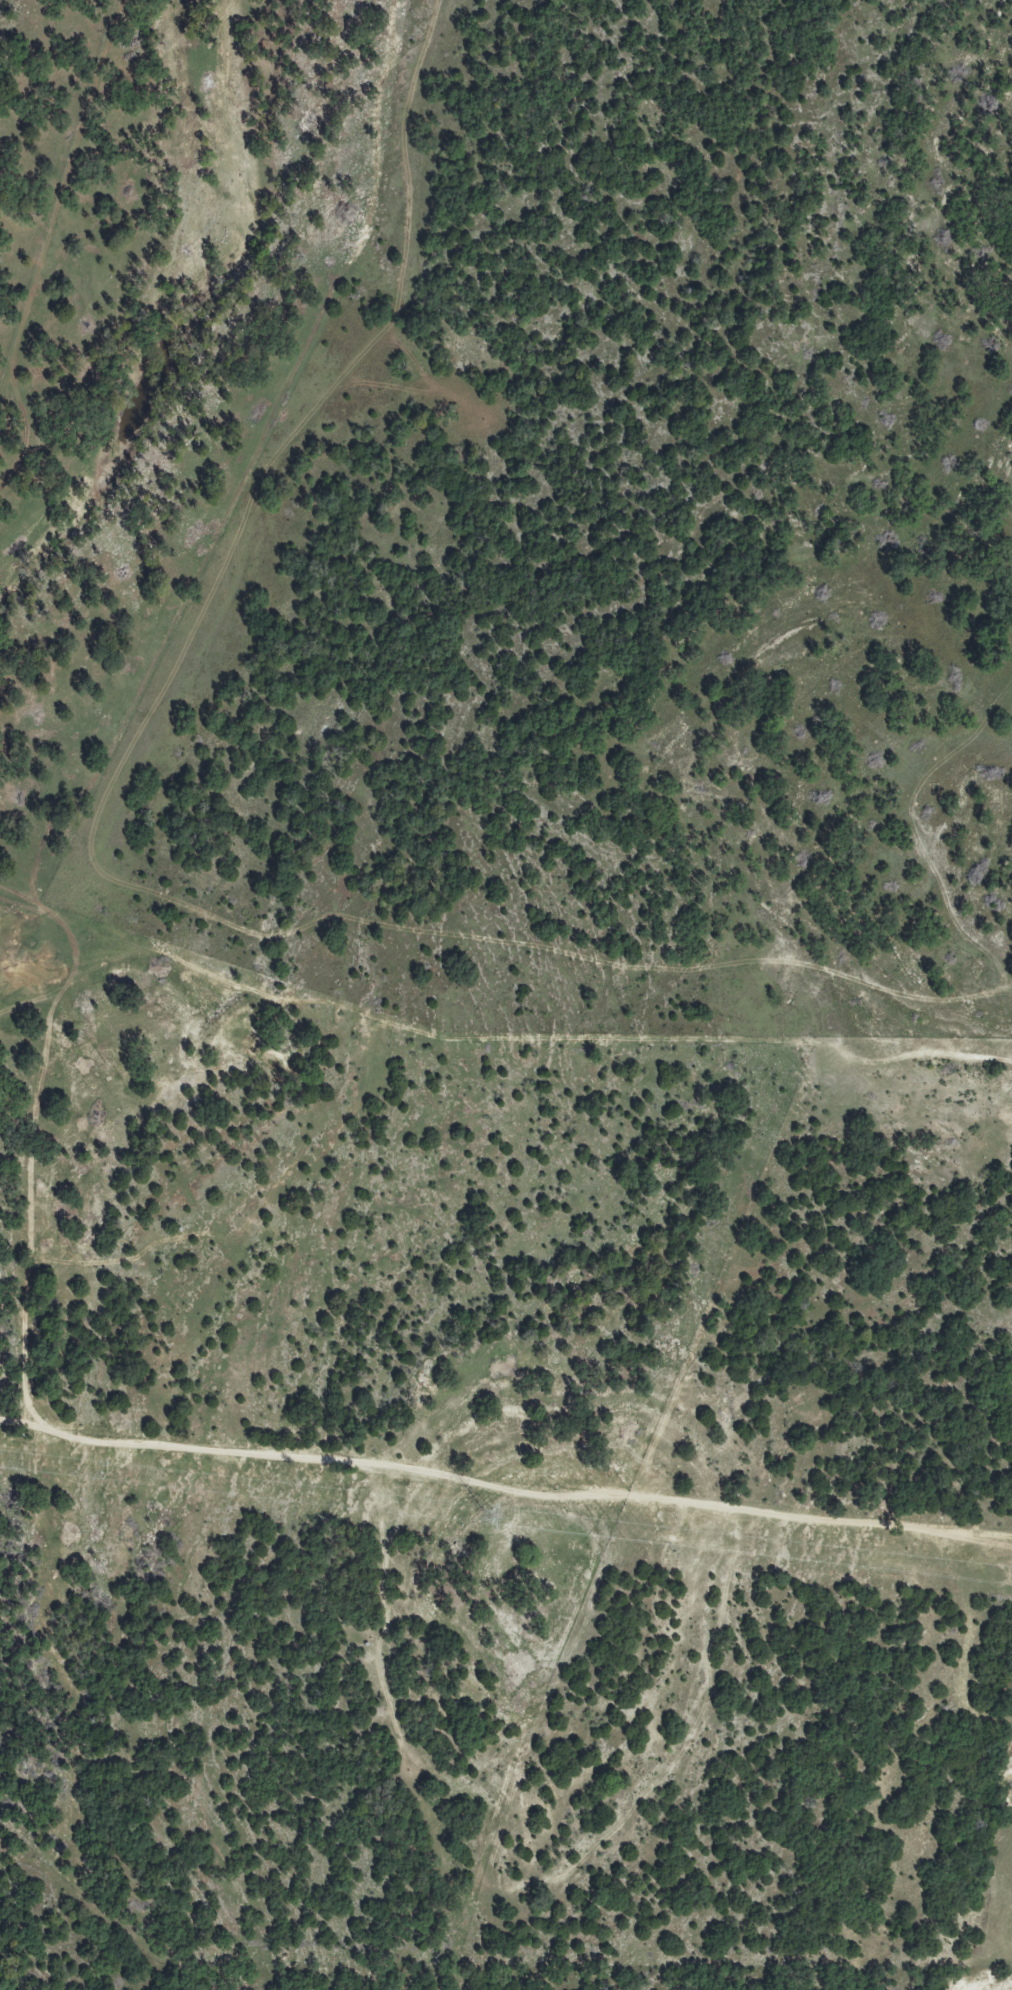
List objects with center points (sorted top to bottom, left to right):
power tower: (483, 1519)

